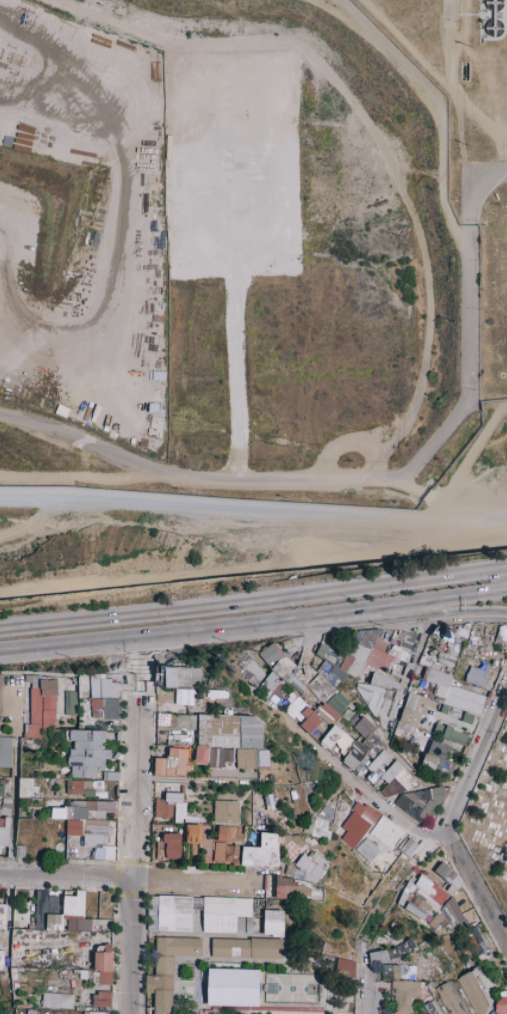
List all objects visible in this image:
road: (437, 107)
wastewater plant: (468, 139)
road: (122, 255)
road: (466, 319)
road: (472, 457)
road: (87, 480)
road: (198, 484)
road: (221, 508)
road: (451, 512)
road: (31, 519)
road: (243, 568)
road: (253, 598)
road: (403, 611)
road: (458, 620)
road: (253, 623)
building: (465, 626)
building: (394, 634)
building: (448, 635)
building: (459, 635)
building: (501, 635)
building: (366, 636)
building: (405, 640)
building: (473, 642)
building: (380, 643)
building: (392, 647)
building: (278, 648)
building: (346, 648)
building: (452, 648)
building: (321, 649)
building: (358, 651)
building: (331, 652)
building: (271, 654)
building: (402, 655)
building: (329, 657)
building: (378, 658)
building: (447, 659)
building: (394, 660)
building: (428, 661)
building: (243, 663)
building: (494, 663)
building: (287, 664)
building: (351, 665)
building: (388, 667)
building: (366, 669)
building: (283, 670)
building: (447, 670)
building: (326, 671)
building: (253, 673)
building: (180, 676)
building: (476, 676)
building: (300, 677)
building: (437, 677)
building: (364, 678)
road: (406, 679)
building: (34, 680)
building: (75, 680)
building: (378, 681)
building: (296, 684)
building: (83, 685)
building: (209, 685)
building: (271, 686)
building: (49, 687)
building: (321, 688)
building: (96, 689)
building: (110, 689)
building: (416, 689)
building: (435, 692)
building: (212, 693)
building: (352, 693)
building: (284, 695)
building: (184, 697)
building: (71, 698)
building: (367, 698)
building: (285, 699)
building: (464, 699)
building: (49, 702)
building: (356, 702)
building: (414, 702)
building: (435, 702)
building: (109, 703)
building: (338, 703)
building: (96, 704)
building: (35, 705)
building: (439, 706)
building: (189, 709)
building: (298, 709)
building: (445, 709)
building: (73, 710)
building: (384, 710)
building: (66, 711)
road: (273, 711)
building: (456, 712)
building: (97, 713)
building: (111, 713)
building: (48, 714)
building: (327, 714)
building: (166, 715)
building: (350, 717)
building: (409, 717)
building: (468, 717)
building: (158, 720)
building: (172, 720)
building: (185, 720)
building: (47, 723)
building: (307, 725)
building: (364, 727)
building: (204, 729)
building: (409, 729)
building: (225, 730)
building: (439, 730)
building: (33, 731)
building: (320, 731)
building: (251, 732)
building: (67, 734)
building: (88, 735)
building: (456, 736)
building: (332, 737)
building: (69, 741)
building: (345, 742)
building: (373, 745)
building: (84, 746)
building: (335, 749)
building: (409, 749)
building: (402, 750)
building: (5, 751)
building: (441, 751)
building: (174, 752)
building: (90, 753)
building: (202, 755)
building: (224, 755)
building: (354, 755)
building: (212, 756)
building: (246, 757)
building: (378, 760)
building: (97, 761)
building: (172, 761)
building: (429, 761)
road: (474, 762)
building: (179, 763)
building: (440, 764)
building: (447, 764)
building: (160, 766)
building: (362, 766)
building: (396, 767)
building: (451, 769)
building: (76, 771)
building: (379, 771)
building: (90, 773)
building: (63, 775)
building: (110, 775)
building: (372, 776)
road: (14, 779)
building: (390, 779)
building: (404, 779)
building: (377, 783)
road: (358, 784)
building: (414, 784)
building: (68, 786)
building: (77, 786)
building: (91, 786)
building: (182, 788)
building: (2, 790)
building: (398, 790)
building: (446, 790)
building: (386, 791)
building: (56, 792)
building: (292, 793)
building: (274, 795)
building: (268, 802)
building: (420, 802)
building: (172, 803)
building: (78, 804)
building: (90, 805)
building: (104, 805)
building: (177, 805)
building: (334, 806)
building: (5, 807)
building: (357, 808)
building: (164, 809)
building: (63, 810)
building: (226, 811)
building: (325, 812)
building: (89, 815)
building: (369, 815)
building: (49, 816)
building: (62, 816)
building: (331, 816)
building: (338, 818)
building: (357, 818)
building: (191, 819)
building: (2, 821)
building: (310, 825)
building: (95, 826)
building: (74, 827)
building: (174, 827)
building: (47, 829)
building: (320, 829)
building: (110, 830)
building: (354, 830)
building: (4, 832)
building: (386, 832)
building: (193, 833)
building: (222, 834)
building: (56, 836)
building: (95, 839)
building: (168, 846)
building: (407, 847)
building: (366, 850)
road: (132, 854)
building: (311, 866)
building: (444, 872)
road: (65, 874)
building: (286, 887)
building: (430, 905)
building: (171, 912)
building: (223, 913)
building: (273, 923)
building: (476, 944)
building: (246, 948)
building: (103, 967)
building: (344, 968)
building: (167, 969)
building: (232, 987)
building: (400, 989)
building: (472, 993)
building: (100, 999)
building: (449, 999)
building: (56, 1000)
building: (500, 1002)
building: (431, 1007)
building: (97, 1012)

